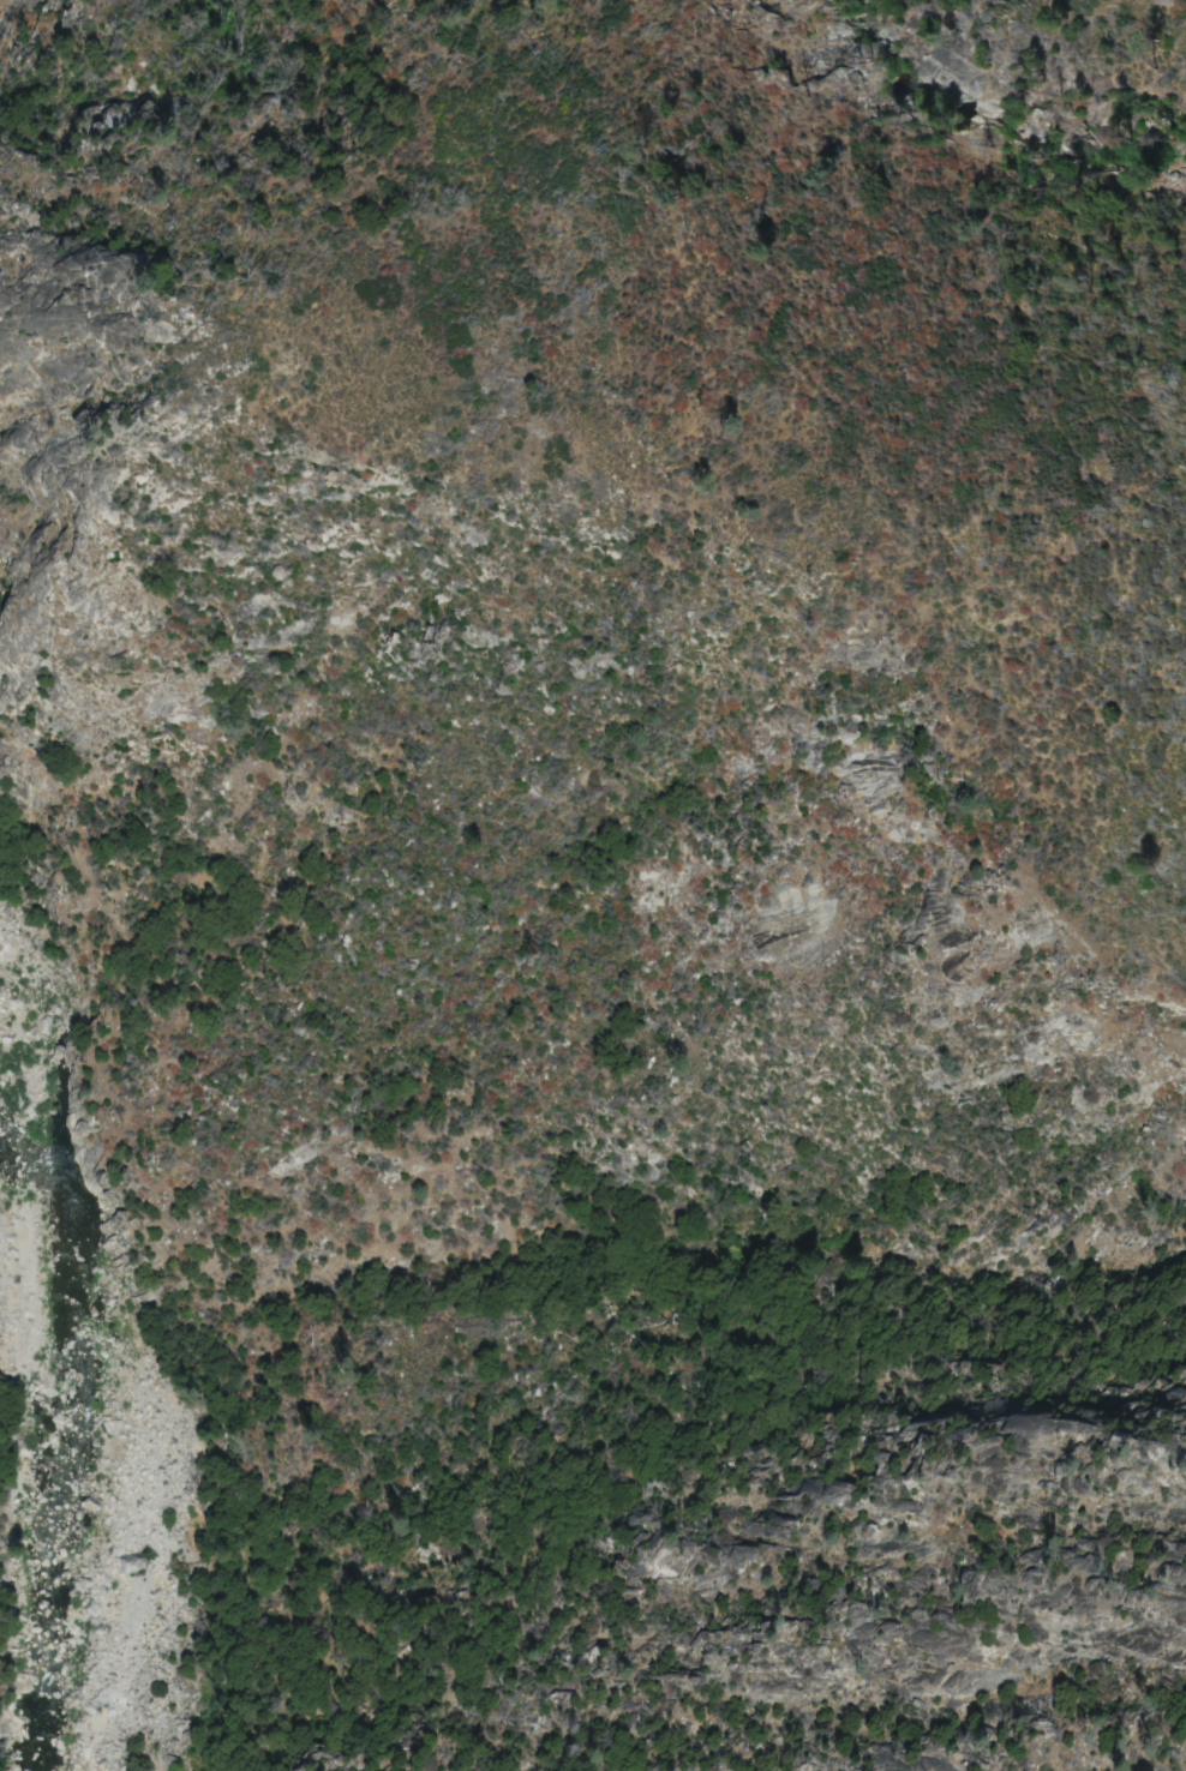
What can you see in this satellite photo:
river: (58, 1485)

